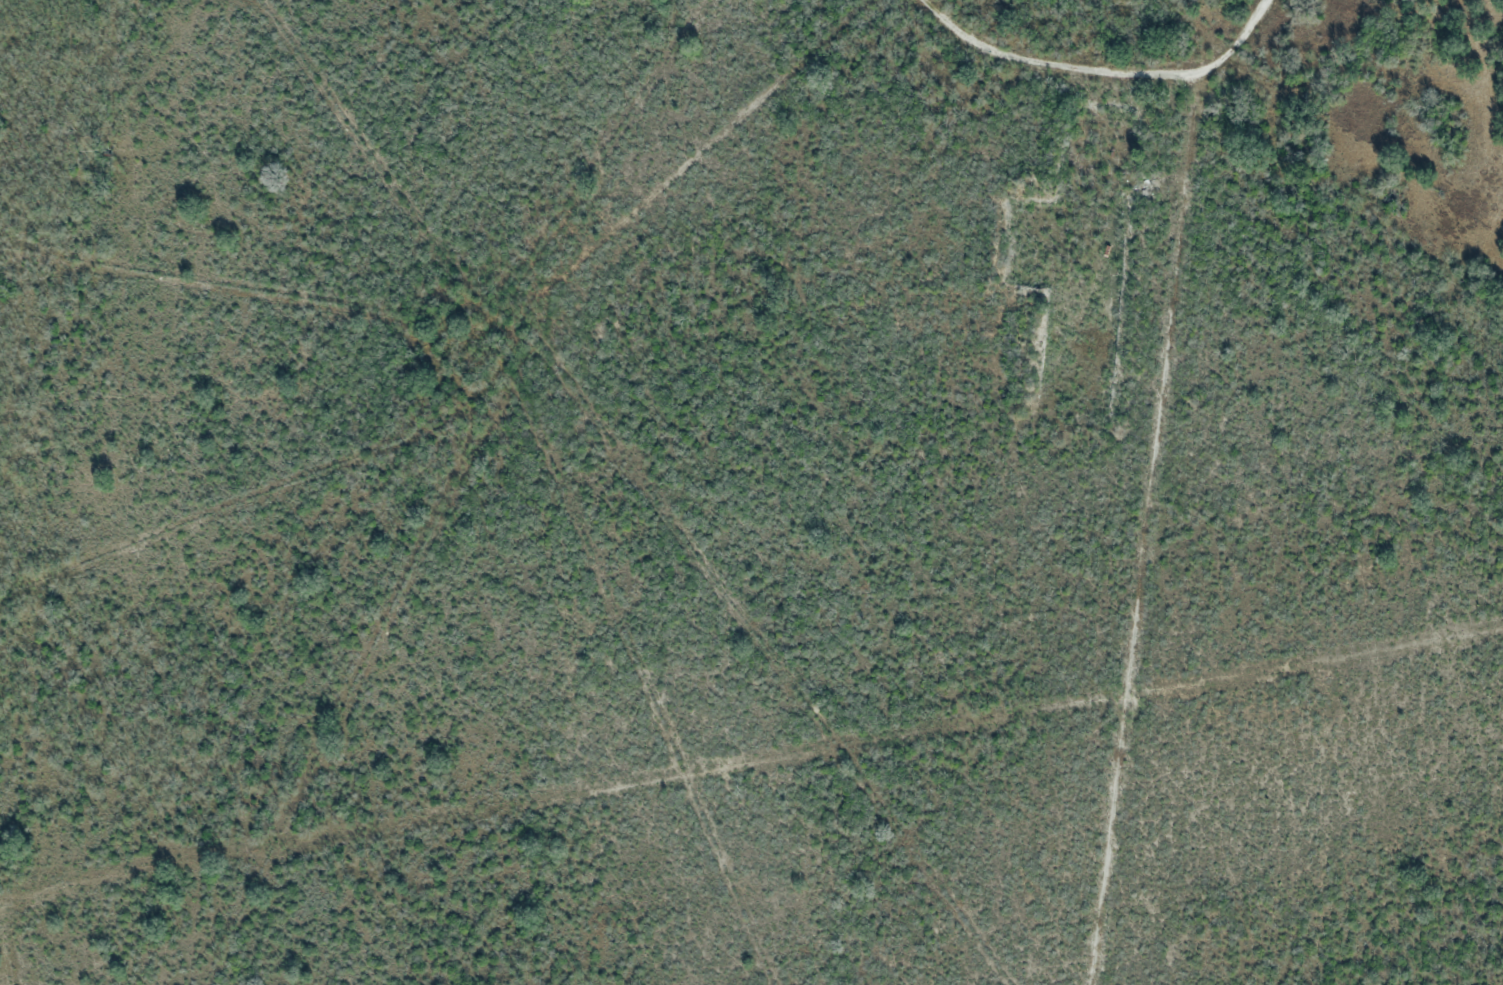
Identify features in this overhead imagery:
road: (1103, 72)
road: (1144, 530)

